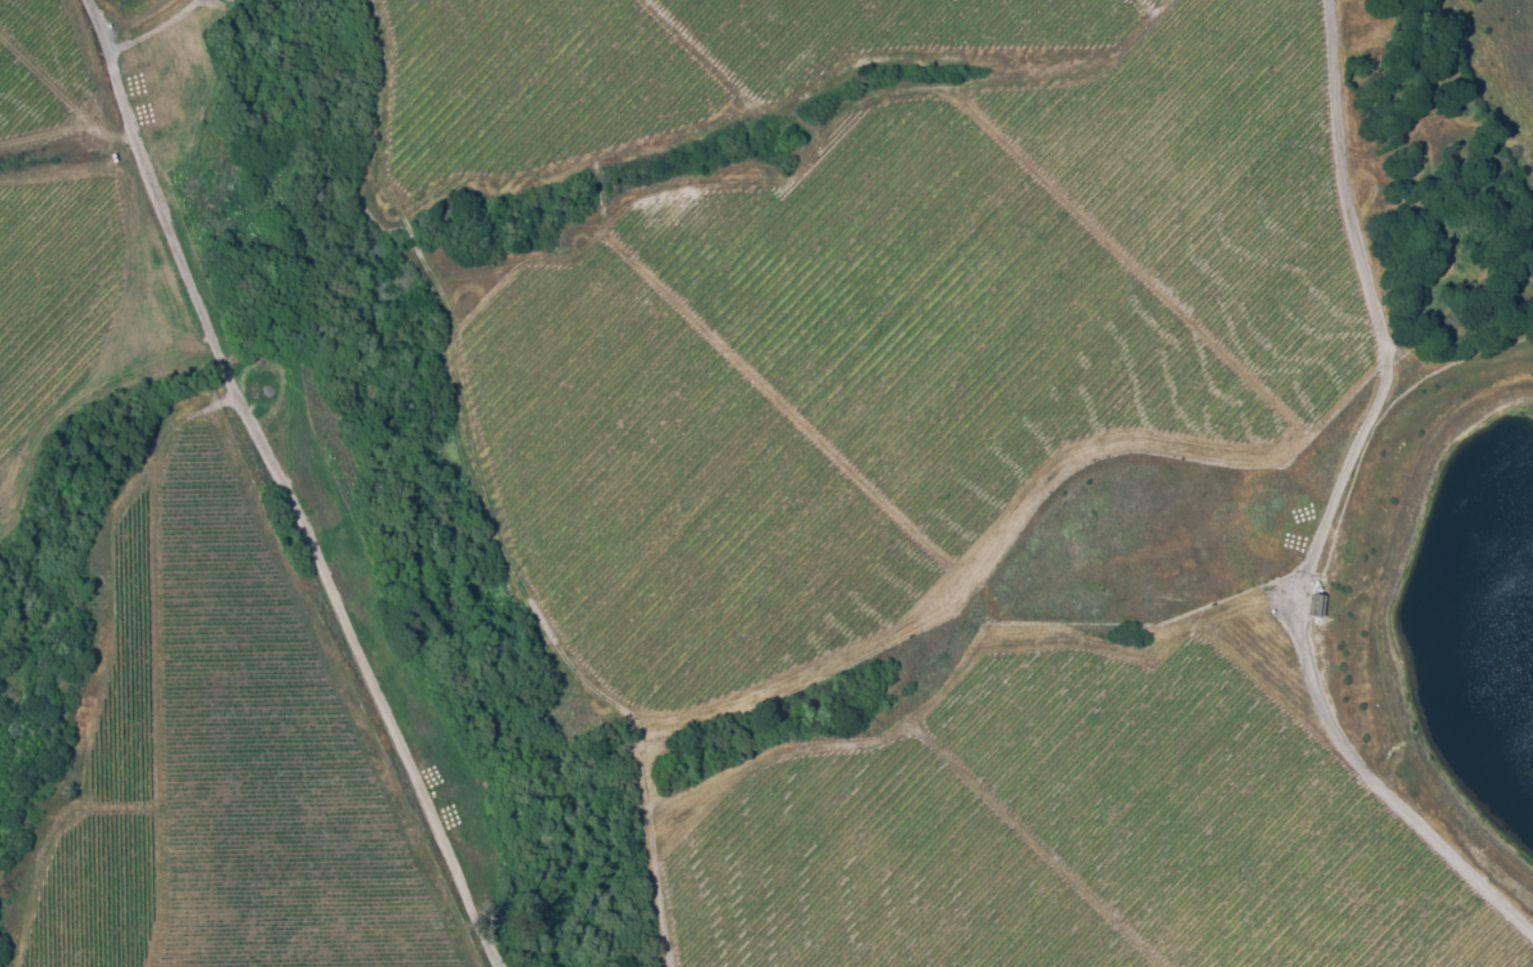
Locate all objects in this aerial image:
crop: (1153, 1)
crop: (879, 29)
crop: (49, 36)
crop: (534, 82)
crop: (26, 97)
crop: (1219, 182)
crop: (53, 289)
crop: (938, 314)
road: (283, 488)
crop: (670, 493)
crop: (124, 679)
crop: (263, 766)
crop: (1212, 815)
crop: (875, 875)
crop: (91, 899)

